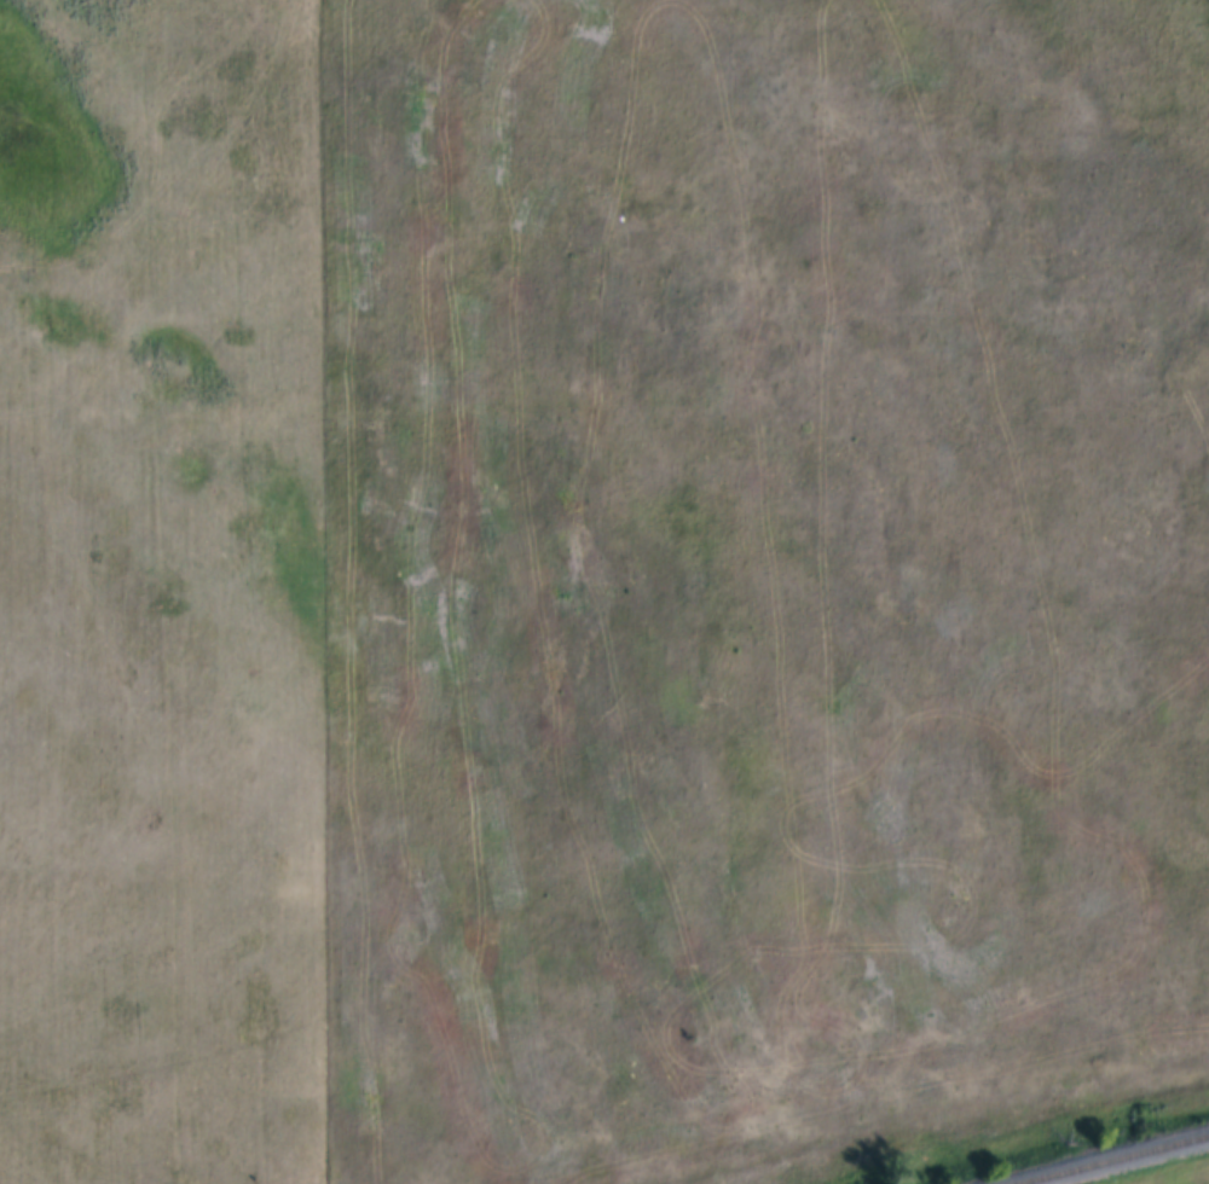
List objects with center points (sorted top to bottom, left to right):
railway: (1112, 1160)

